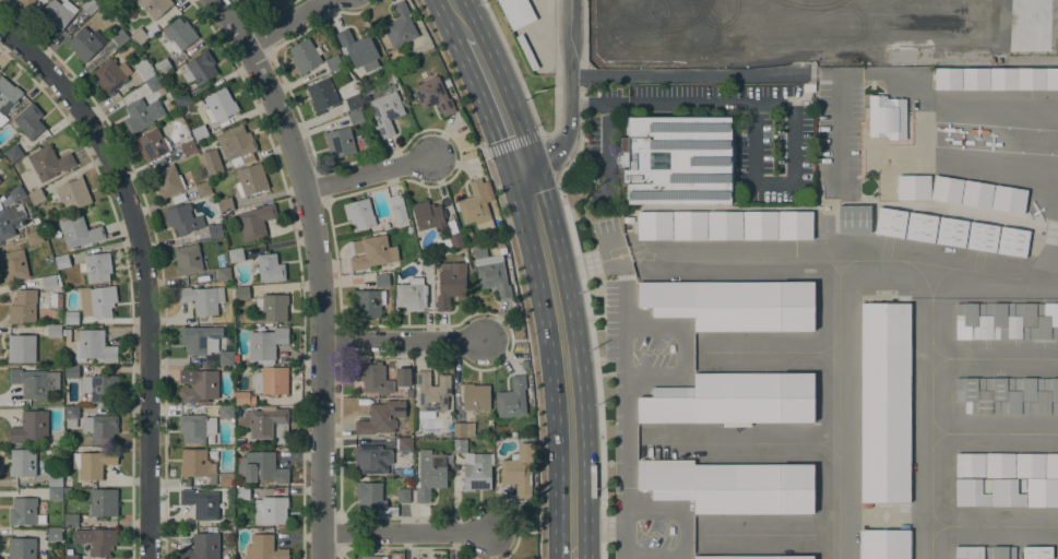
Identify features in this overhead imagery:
building: (122, 0)
building: (98, 1)
building: (25, 3)
building: (88, 5)
building: (154, 7)
building: (57, 13)
road: (262, 17)
road: (459, 19)
road: (284, 23)
building: (400, 25)
building: (530, 31)
building: (139, 36)
building: (178, 36)
building: (119, 37)
building: (85, 43)
building: (358, 49)
building: (304, 57)
building: (333, 63)
road: (513, 64)
building: (163, 67)
building: (199, 68)
building: (143, 69)
road: (556, 71)
building: (109, 75)
building: (1050, 78)
building: (948, 79)
building: (975, 79)
building: (1002, 79)
building: (1031, 79)
building: (154, 83)
building: (447, 83)
building: (8, 95)
building: (321, 95)
building: (432, 95)
road: (570, 95)
building: (181, 99)
road: (497, 99)
building: (353, 103)
road: (587, 104)
building: (219, 105)
road: (795, 109)
building: (387, 111)
building: (141, 114)
building: (876, 116)
building: (356, 117)
building: (896, 118)
building: (29, 121)
building: (199, 133)
building: (340, 143)
road: (511, 143)
building: (152, 144)
building: (237, 145)
building: (188, 146)
road: (605, 150)
road: (451, 151)
building: (13, 153)
building: (677, 160)
building: (211, 162)
building: (49, 163)
traffic signals: (522, 164)
road: (365, 173)
building: (250, 179)
building: (0, 181)
building: (167, 181)
building: (912, 187)
airport hangar: (914, 187)
building: (202, 188)
airport hangar: (947, 189)
building: (73, 193)
airport hangar: (977, 193)
building: (17, 194)
building: (977, 194)
building: (35, 197)
airport hangar: (1009, 199)
building: (474, 203)
building: (225, 204)
building: (0, 206)
building: (397, 209)
building: (358, 213)
building: (428, 215)
building: (182, 218)
airport hangar: (854, 218)
building: (854, 218)
building: (10, 219)
building: (255, 221)
airport hangar: (890, 222)
building: (890, 222)
airport hangar: (794, 223)
building: (794, 223)
airport hangar: (653, 224)
building: (653, 224)
airport hangar: (688, 224)
building: (688, 224)
airport hangar: (724, 224)
building: (724, 224)
airport hangar: (759, 224)
building: (759, 224)
airport hangar: (922, 227)
building: (922, 227)
building: (214, 230)
building: (79, 231)
airport hangar: (951, 231)
building: (951, 231)
building: (449, 237)
airport hangar: (982, 237)
building: (982, 237)
building: (34, 238)
airport hangar: (1012, 241)
building: (1012, 241)
building: (499, 243)
building: (368, 251)
building: (235, 255)
building: (187, 259)
airport taxiway: (830, 260)
building: (61, 261)
building: (426, 262)
building: (13, 265)
building: (96, 267)
building: (270, 267)
road: (317, 267)
road: (143, 270)
road: (513, 270)
building: (223, 273)
building: (492, 275)
road: (580, 275)
building: (382, 279)
building: (50, 282)
building: (450, 285)
building: (241, 293)
building: (412, 295)
building: (55, 299)
building: (202, 299)
building: (97, 301)
building: (368, 302)
airport hangar: (732, 302)
building: (732, 302)
building: (23, 307)
building: (272, 307)
building: (71, 318)
airport hangar: (1009, 320)
building: (1009, 320)
road: (381, 324)
building: (54, 331)
airport: (844, 336)
road: (503, 338)
building: (200, 340)
road: (401, 340)
building: (265, 343)
building: (92, 346)
building: (21, 348)
building: (225, 357)
airport taxiway: (990, 357)
road: (563, 358)
airport taxiway: (937, 362)
building: (70, 371)
building: (402, 377)
building: (372, 378)
building: (271, 380)
building: (33, 382)
building: (198, 383)
building: (99, 388)
building: (408, 393)
building: (431, 393)
airport hangar: (1009, 394)
building: (1009, 394)
building: (475, 396)
building: (242, 397)
airport hangar: (733, 397)
building: (733, 397)
building: (511, 399)
airport hangar: (884, 401)
building: (884, 401)
airport taxiway: (839, 405)
building: (225, 412)
building: (71, 416)
building: (381, 417)
building: (265, 424)
building: (29, 427)
building: (99, 428)
building: (195, 428)
building: (463, 429)
airport taxiway: (930, 429)
airport taxiway: (990, 432)
airport taxiway: (937, 437)
building: (404, 444)
building: (460, 445)
building: (371, 459)
building: (22, 462)
building: (93, 463)
building: (194, 463)
airport hangar: (968, 463)
building: (968, 463)
airport hangar: (998, 464)
building: (998, 464)
airport hangar: (1029, 464)
building: (1029, 464)
airport hangar: (1050, 464)
building: (1050, 464)
building: (263, 467)
building: (519, 469)
building: (476, 471)
building: (430, 474)
building: (55, 479)
building: (226, 479)
airport hangar: (730, 485)
building: (730, 485)
airport hangar: (968, 490)
building: (968, 490)
airport hangar: (1006, 490)
building: (1006, 490)
airport hangar: (1042, 491)
building: (1042, 491)
building: (55, 493)
building: (241, 493)
building: (402, 493)
building: (372, 497)
building: (103, 502)
building: (200, 503)
building: (270, 510)
building: (22, 511)
building: (70, 520)
airport taxiway: (990, 524)
road: (511, 531)
airport taxiway: (937, 531)
road: (337, 532)
road: (404, 533)
building: (54, 534)
building: (95, 540)
airport hangar: (884, 543)
building: (884, 543)
building: (201, 547)
road: (408, 547)
building: (21, 548)
building: (263, 548)
airport hangar: (968, 551)
building: (968, 551)
airport hangar: (999, 551)
building: (999, 551)
airport hangar: (1036, 551)
building: (1036, 551)
airport hangar: (752, 556)
building: (752, 556)
building: (70, 557)
building: (371, 557)
building: (399, 558)

